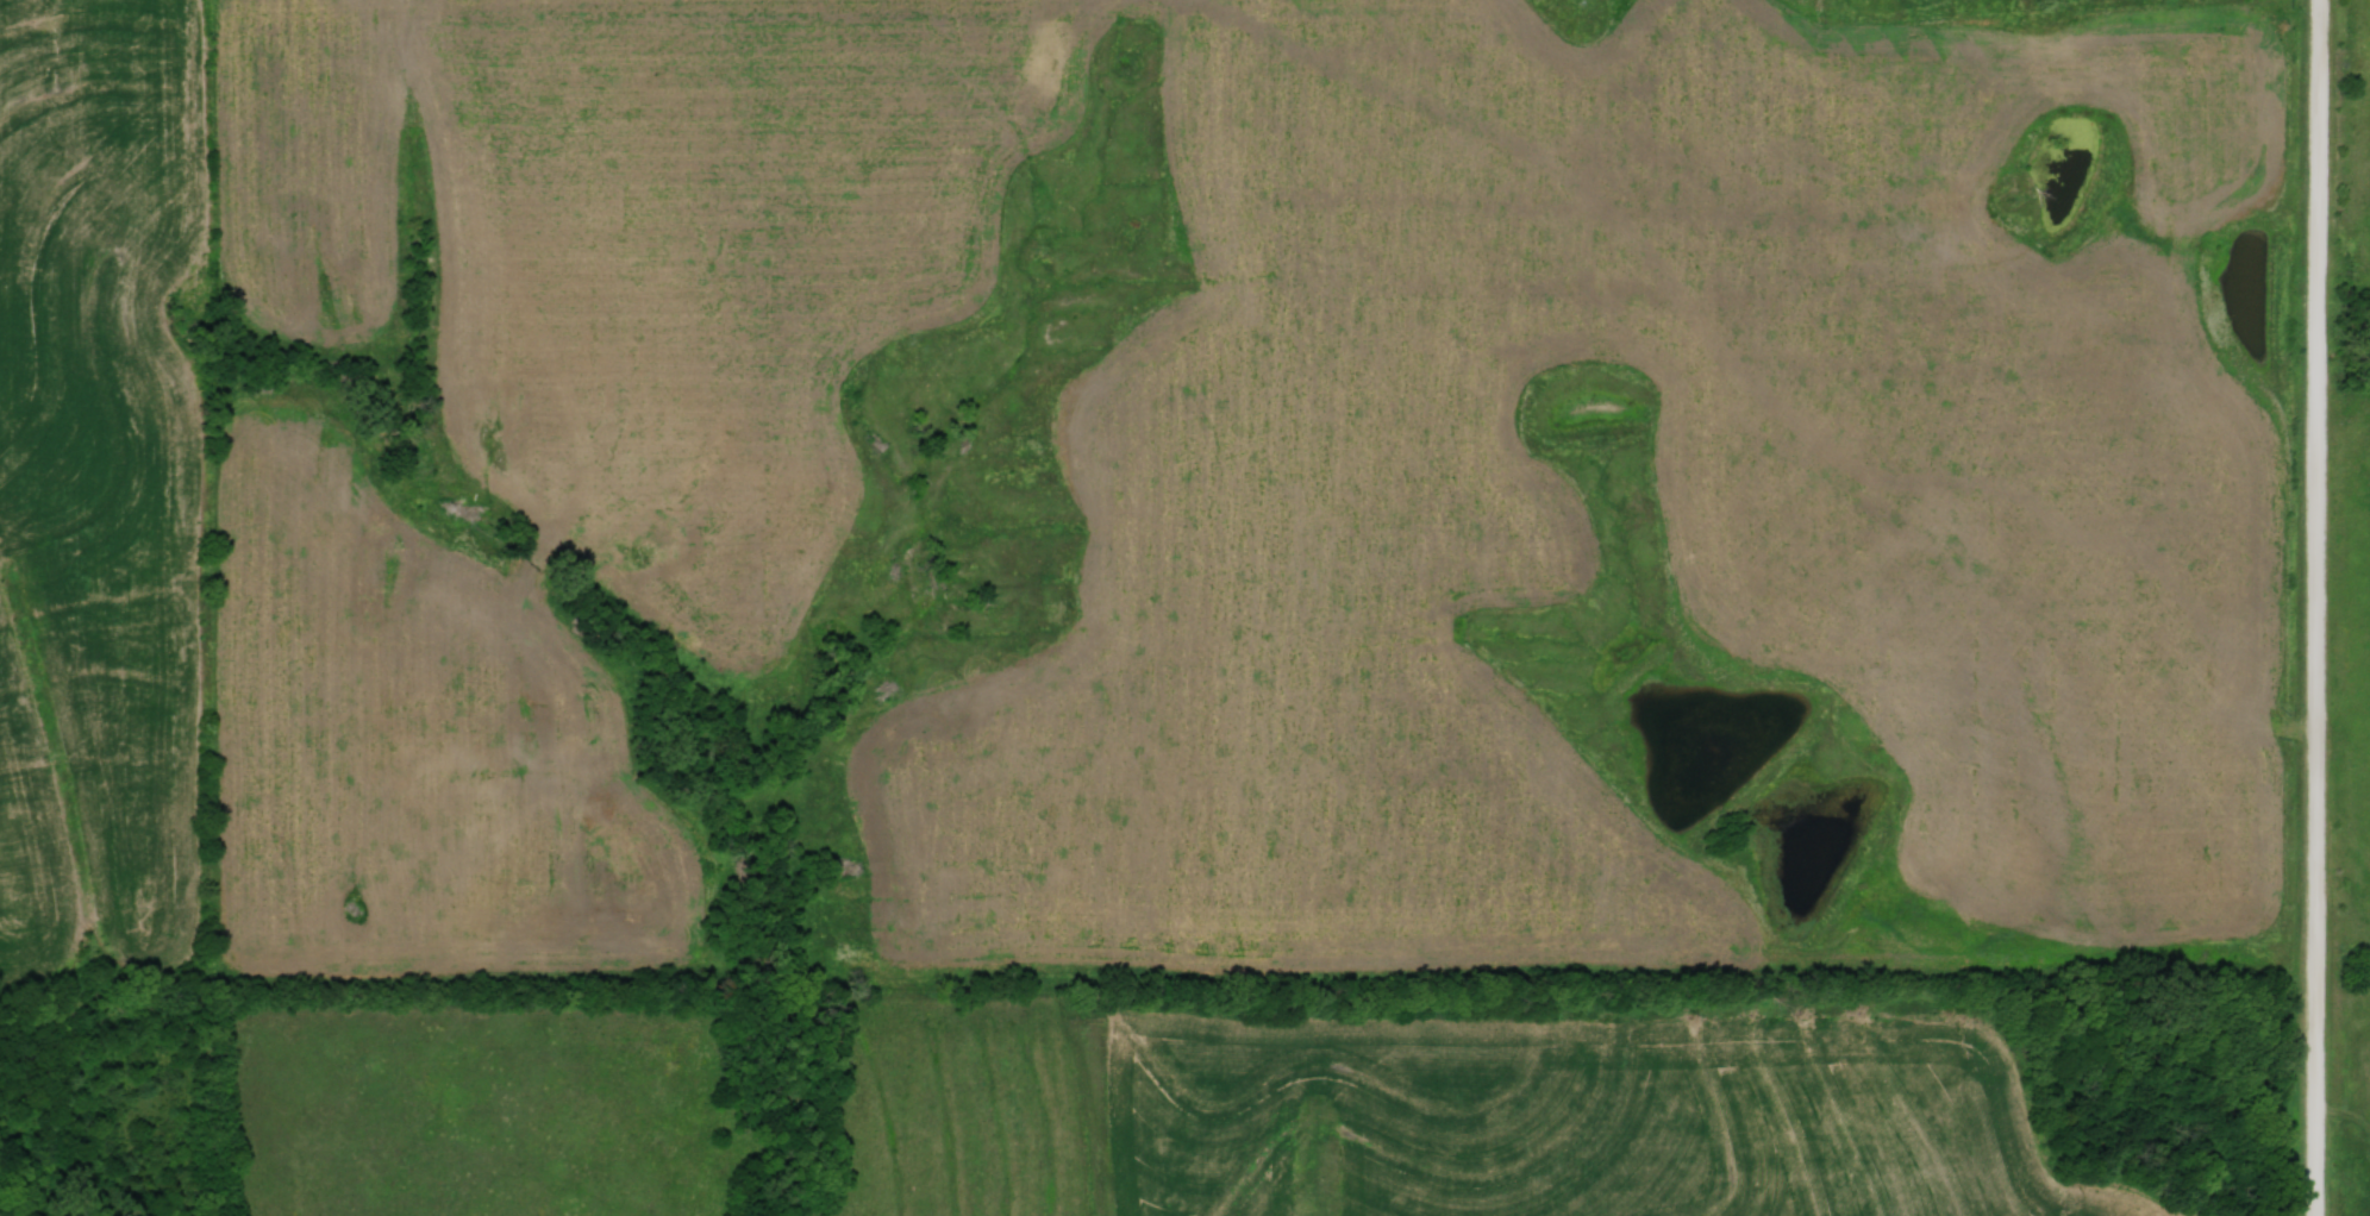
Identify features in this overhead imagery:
road: (2318, 607)

